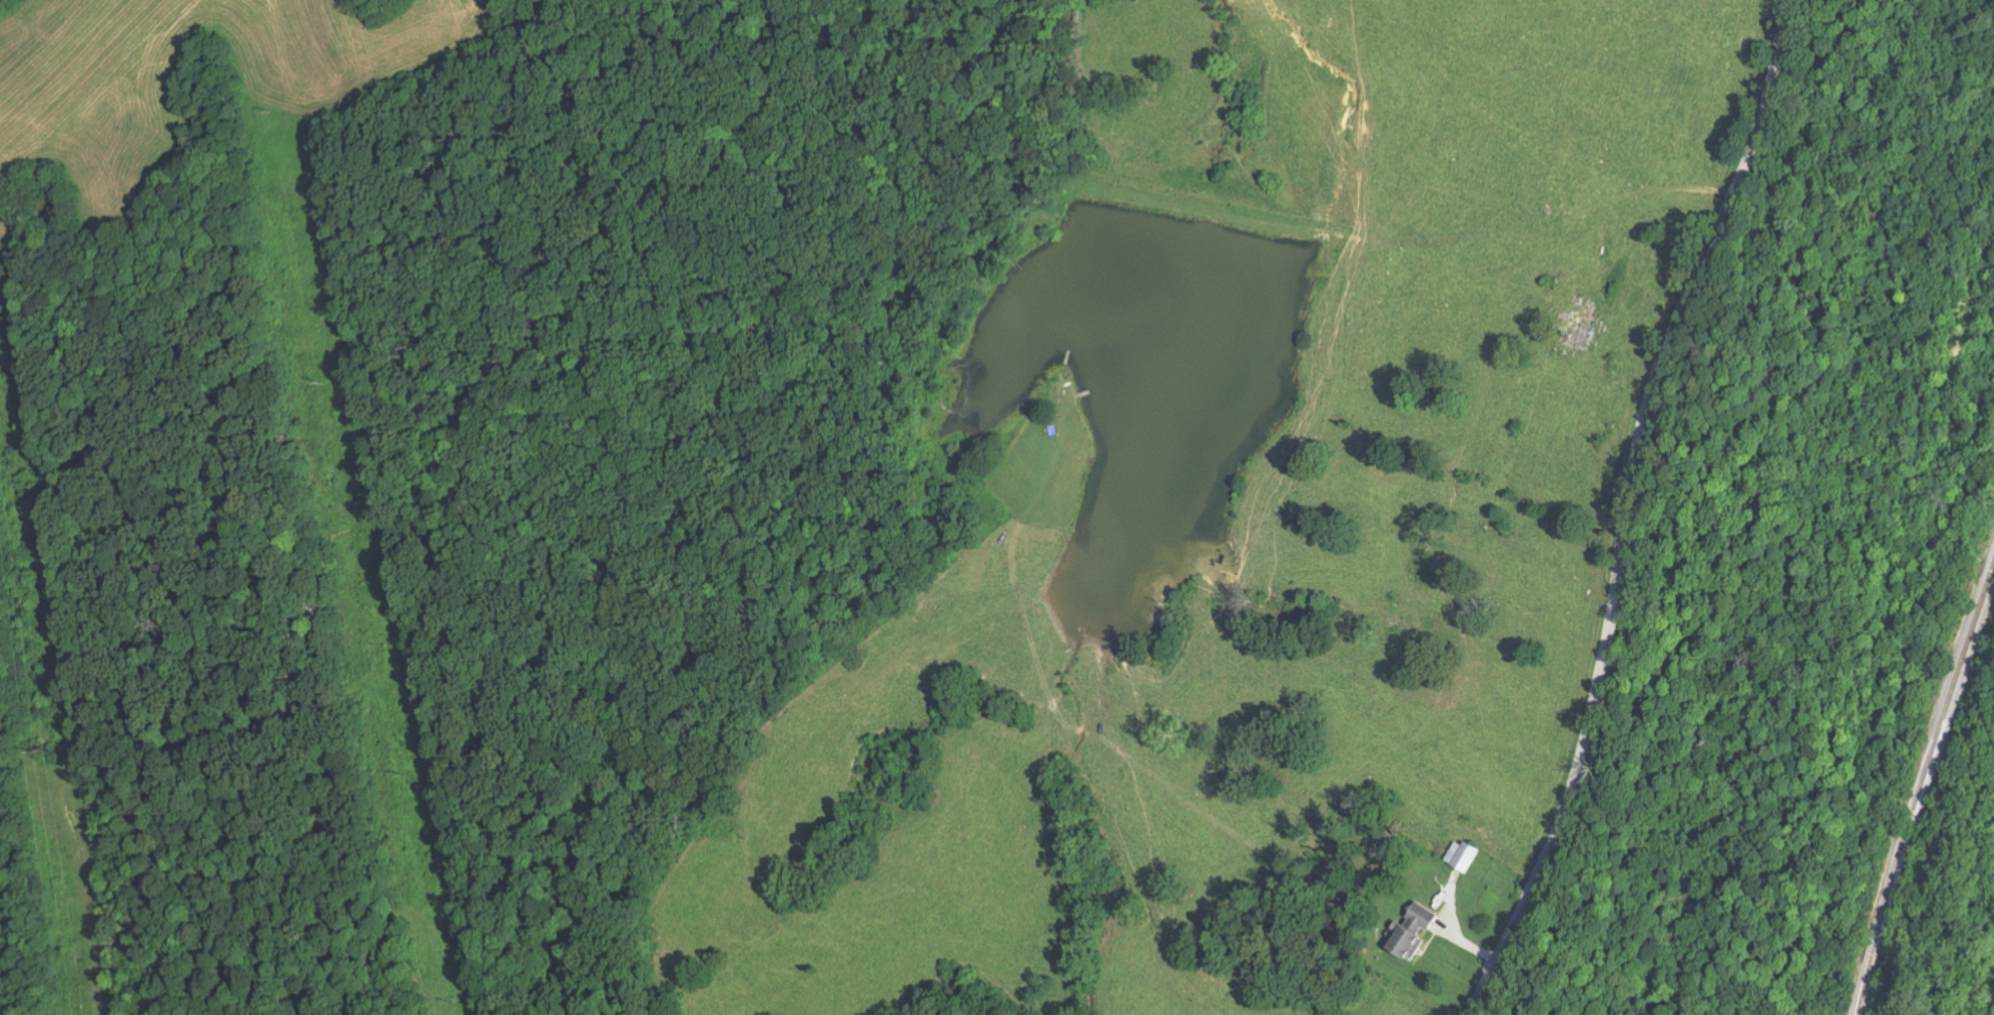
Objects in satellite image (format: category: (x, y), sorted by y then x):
building: (1579, 329)
road: (1629, 507)
railway: (1889, 713)
power tower: (57, 749)
building: (1467, 855)
building: (1418, 931)

